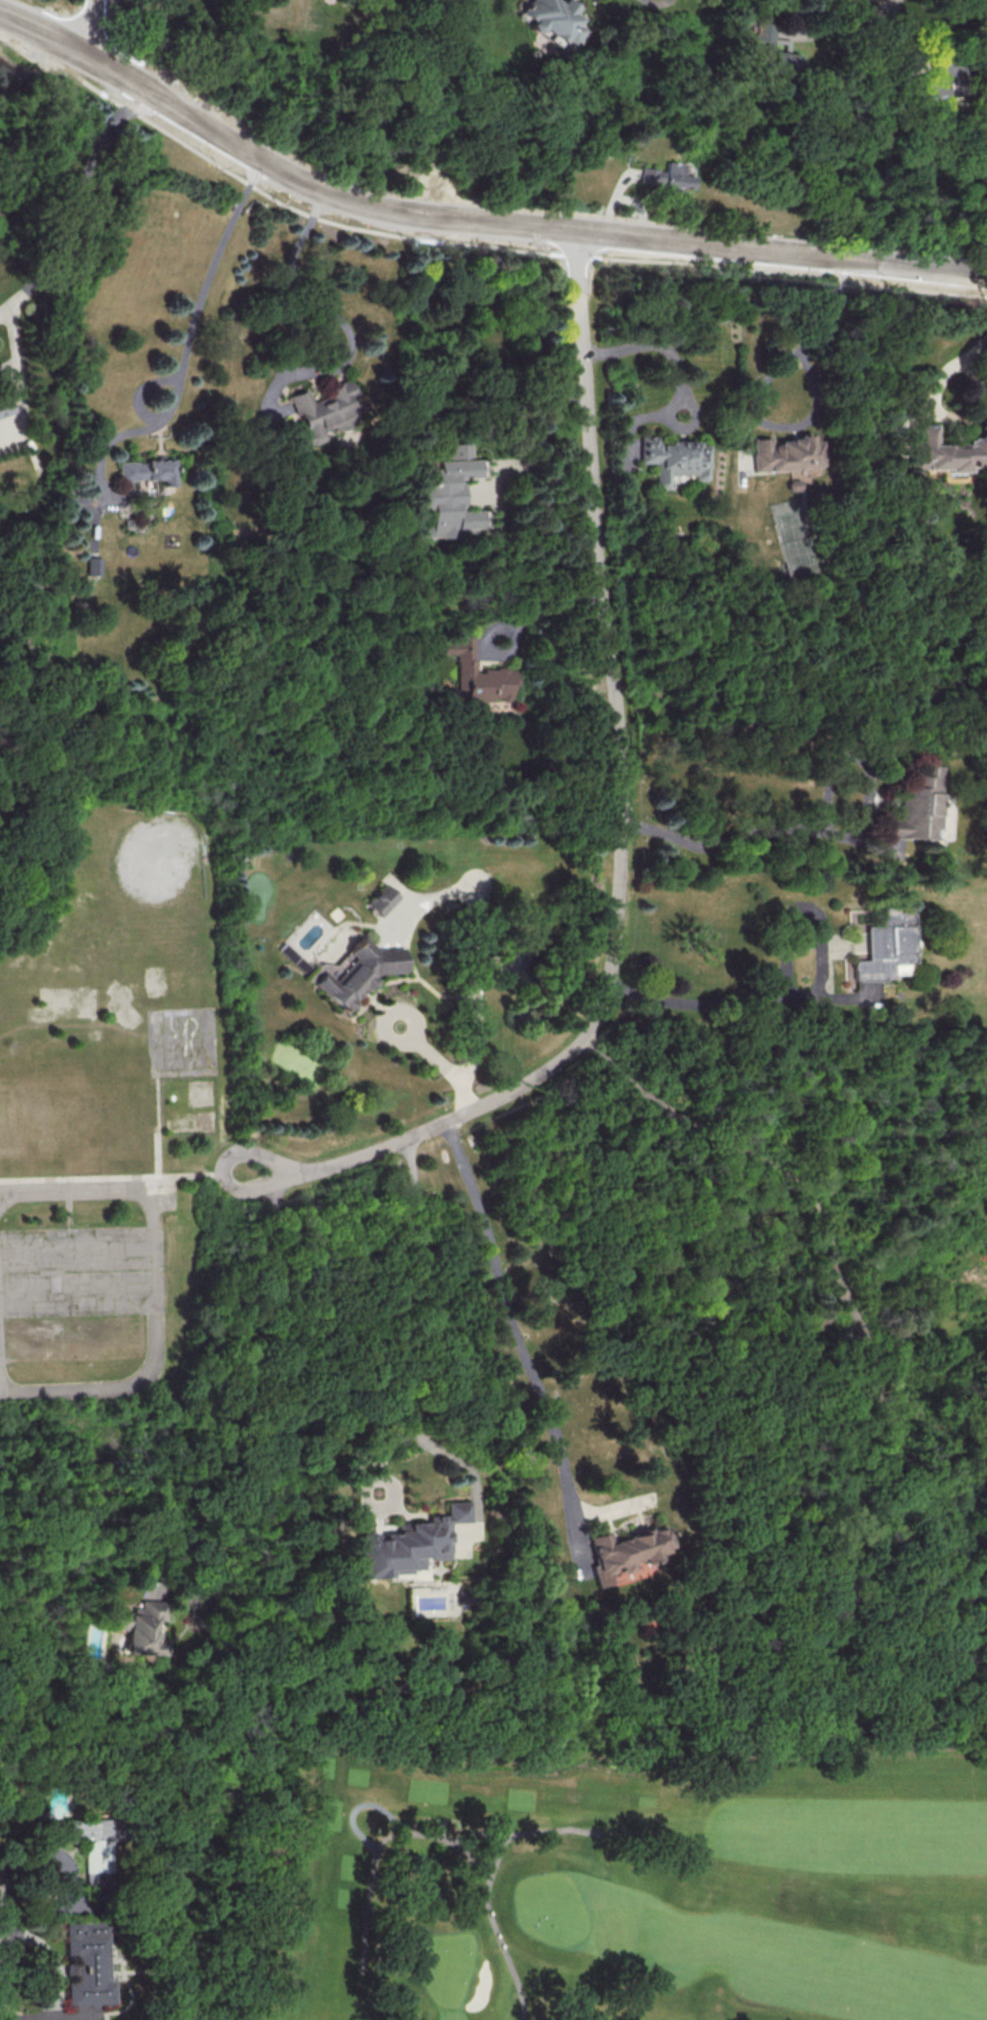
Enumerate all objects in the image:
road: (872, 8)
building: (549, 16)
road: (89, 25)
road: (40, 30)
building: (772, 53)
building: (666, 175)
road: (78, 198)
road: (514, 222)
road: (469, 244)
road: (3, 312)
road: (194, 341)
road: (974, 344)
road: (14, 345)
road: (656, 345)
road: (283, 363)
road: (759, 388)
building: (5, 407)
building: (325, 412)
road: (950, 415)
road: (543, 433)
building: (945, 452)
building: (672, 459)
building: (148, 470)
building: (447, 493)
building: (93, 565)
road: (547, 607)
building: (477, 672)
building: (918, 809)
road: (621, 822)
road: (833, 834)
park: (126, 882)
building: (381, 899)
road: (478, 943)
building: (882, 944)
road: (817, 996)
park: (12, 1002)
road: (443, 1063)
road: (156, 1126)
park: (111, 1132)
road: (733, 1145)
road: (122, 1176)
road: (75, 1251)
parking lot: (72, 1273)
road: (151, 1283)
road: (76, 1295)
road: (397, 1304)
road: (509, 1319)
road: (276, 1427)
building: (406, 1544)
building: (625, 1551)
building: (141, 1627)
road: (358, 1805)
road: (442, 1827)
road: (421, 1832)
building: (94, 1848)
road: (469, 1858)
road: (69, 1881)
park: (582, 1882)
road: (494, 1928)
building: (86, 1964)

